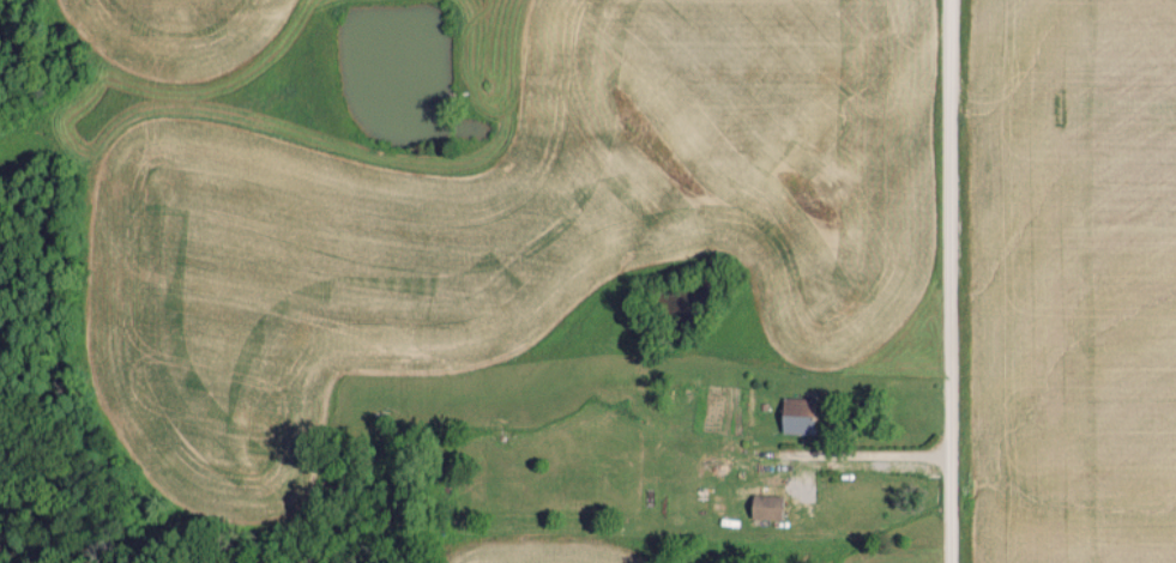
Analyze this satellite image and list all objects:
road: (953, 280)
building: (795, 414)
road: (870, 454)
building: (764, 506)

